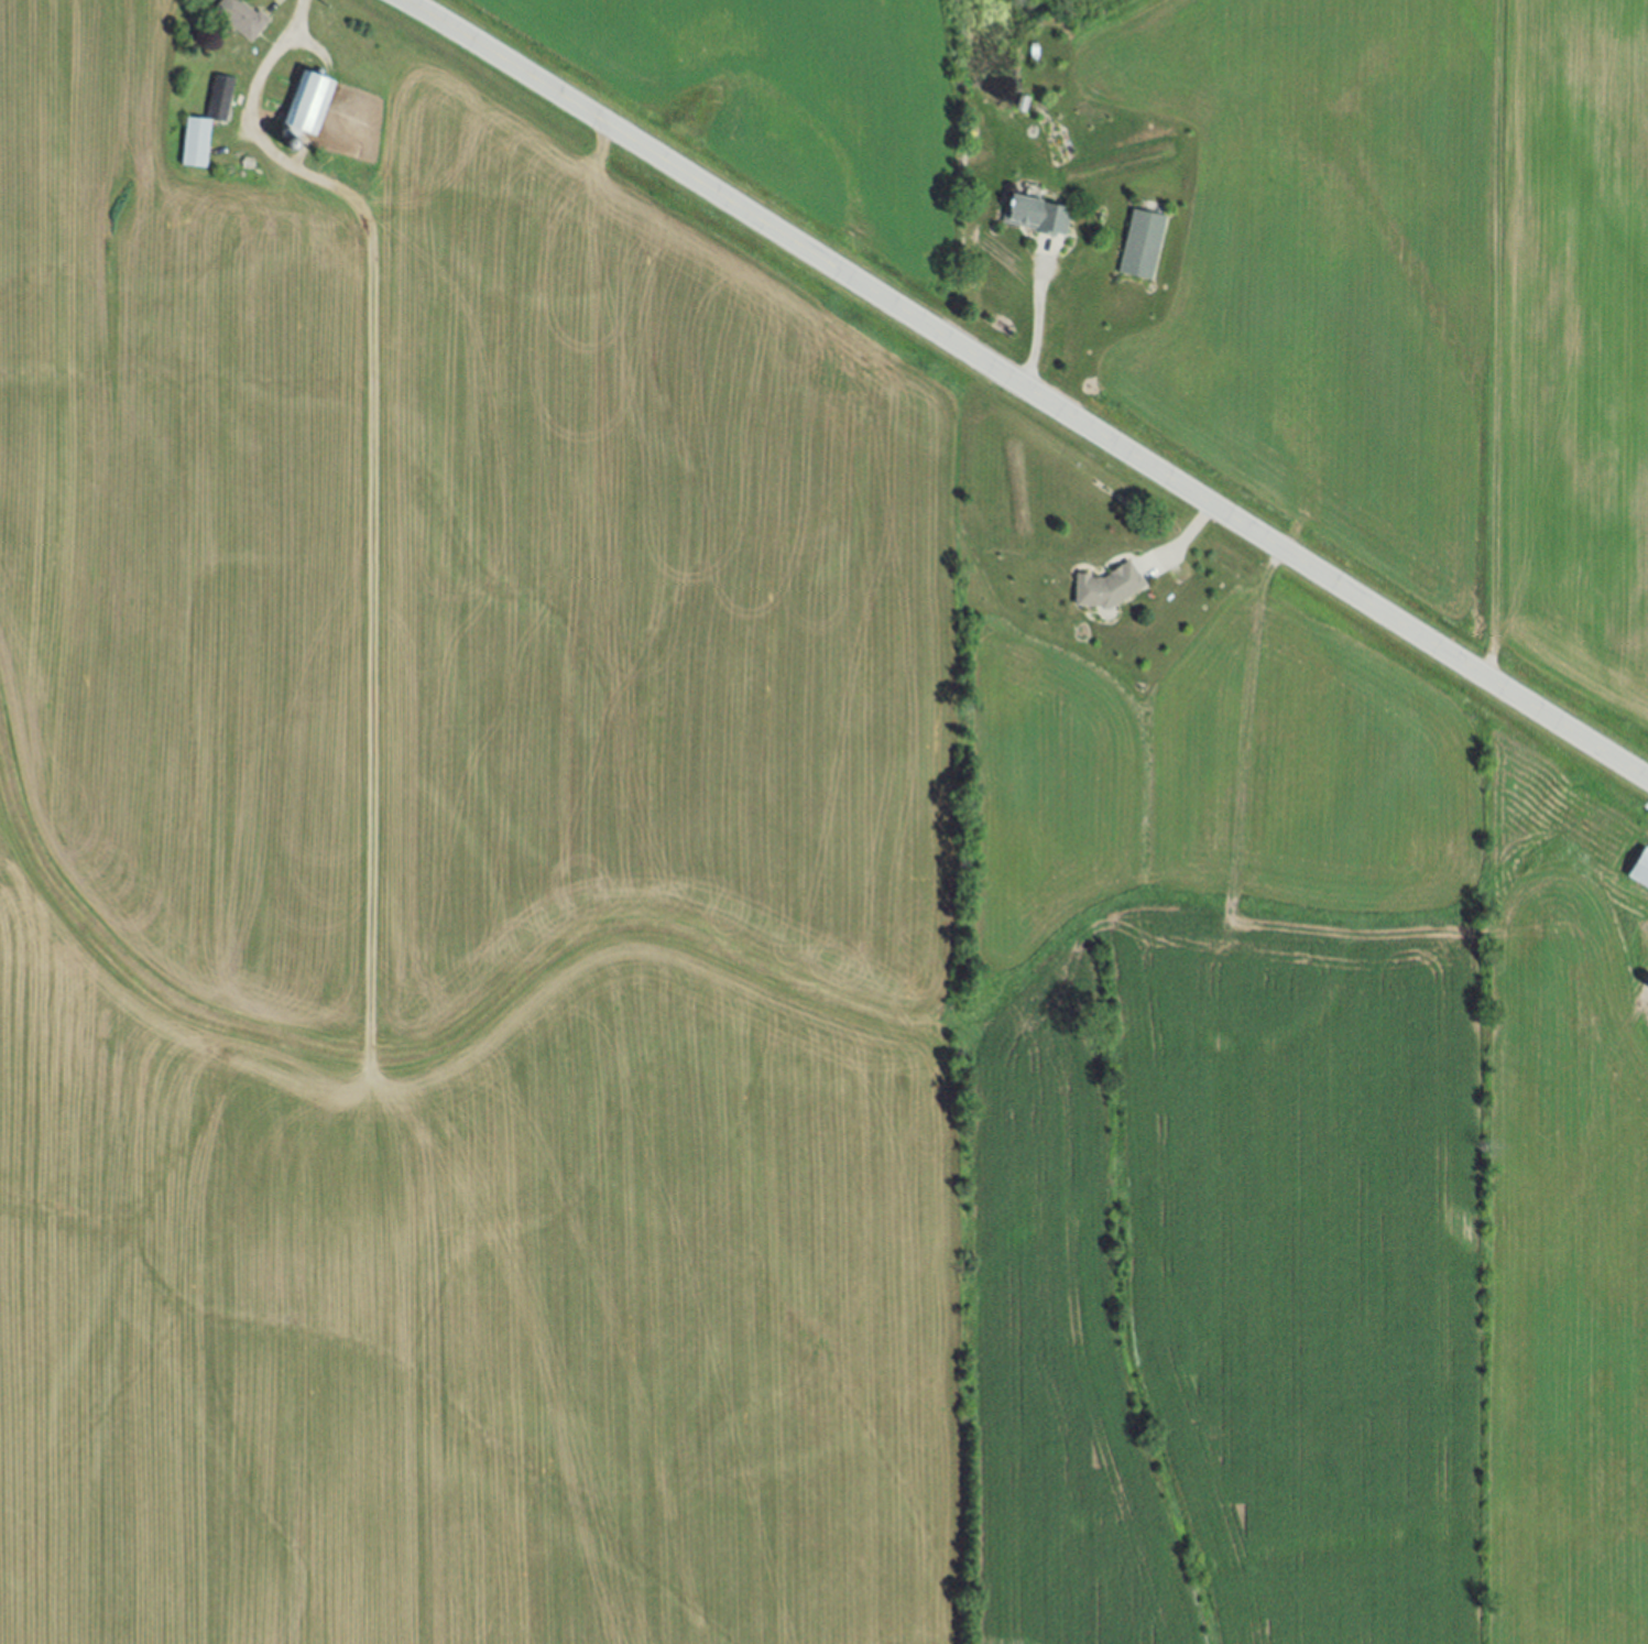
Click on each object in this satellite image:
building: (242, 19)
building: (310, 105)
road: (251, 109)
building: (207, 126)
building: (1040, 218)
building: (1143, 247)
road: (1037, 328)
road: (1027, 389)
road: (1190, 532)
building: (1111, 586)
building: (1640, 870)

